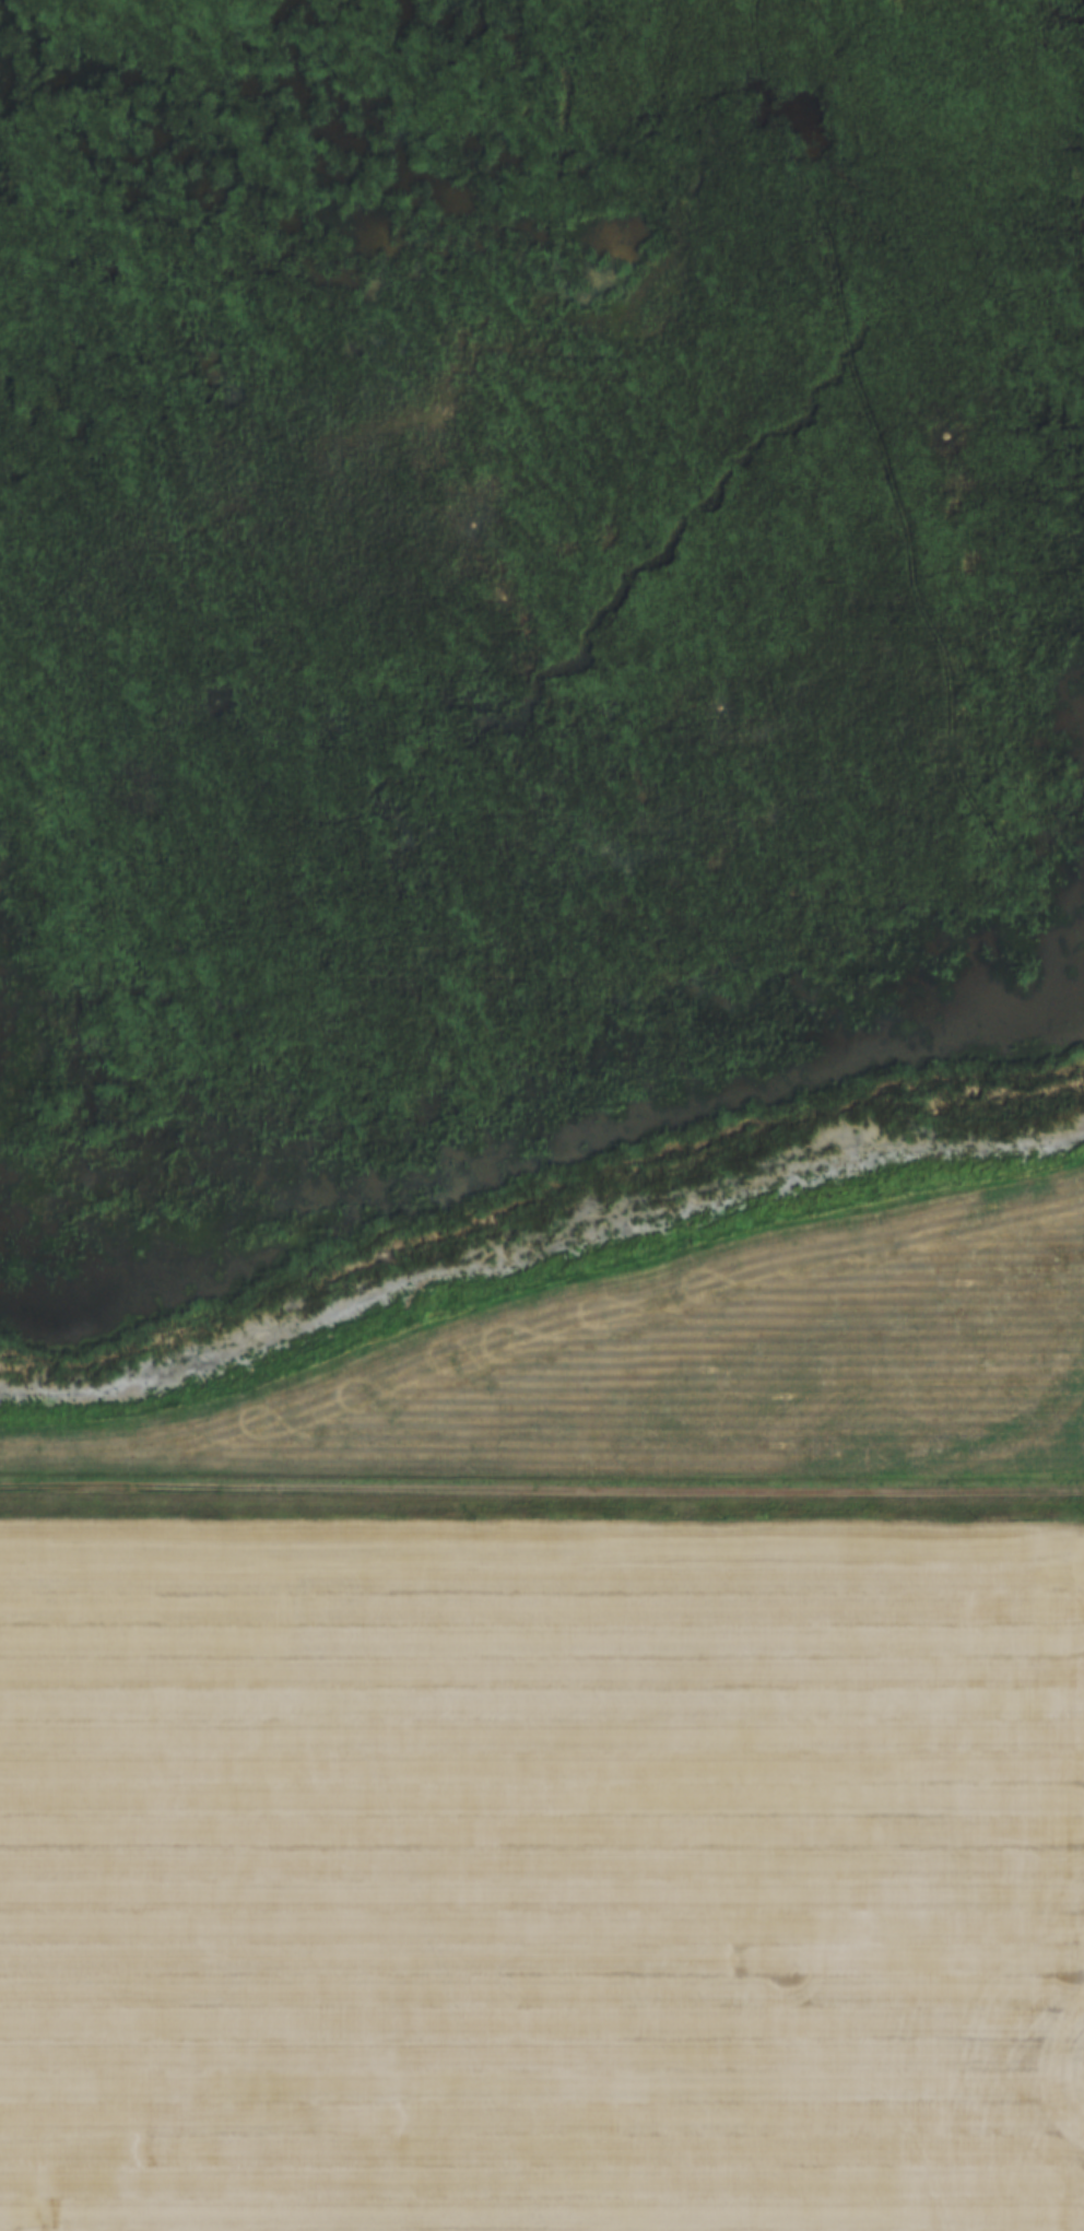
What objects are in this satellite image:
road: (542, 1484)

